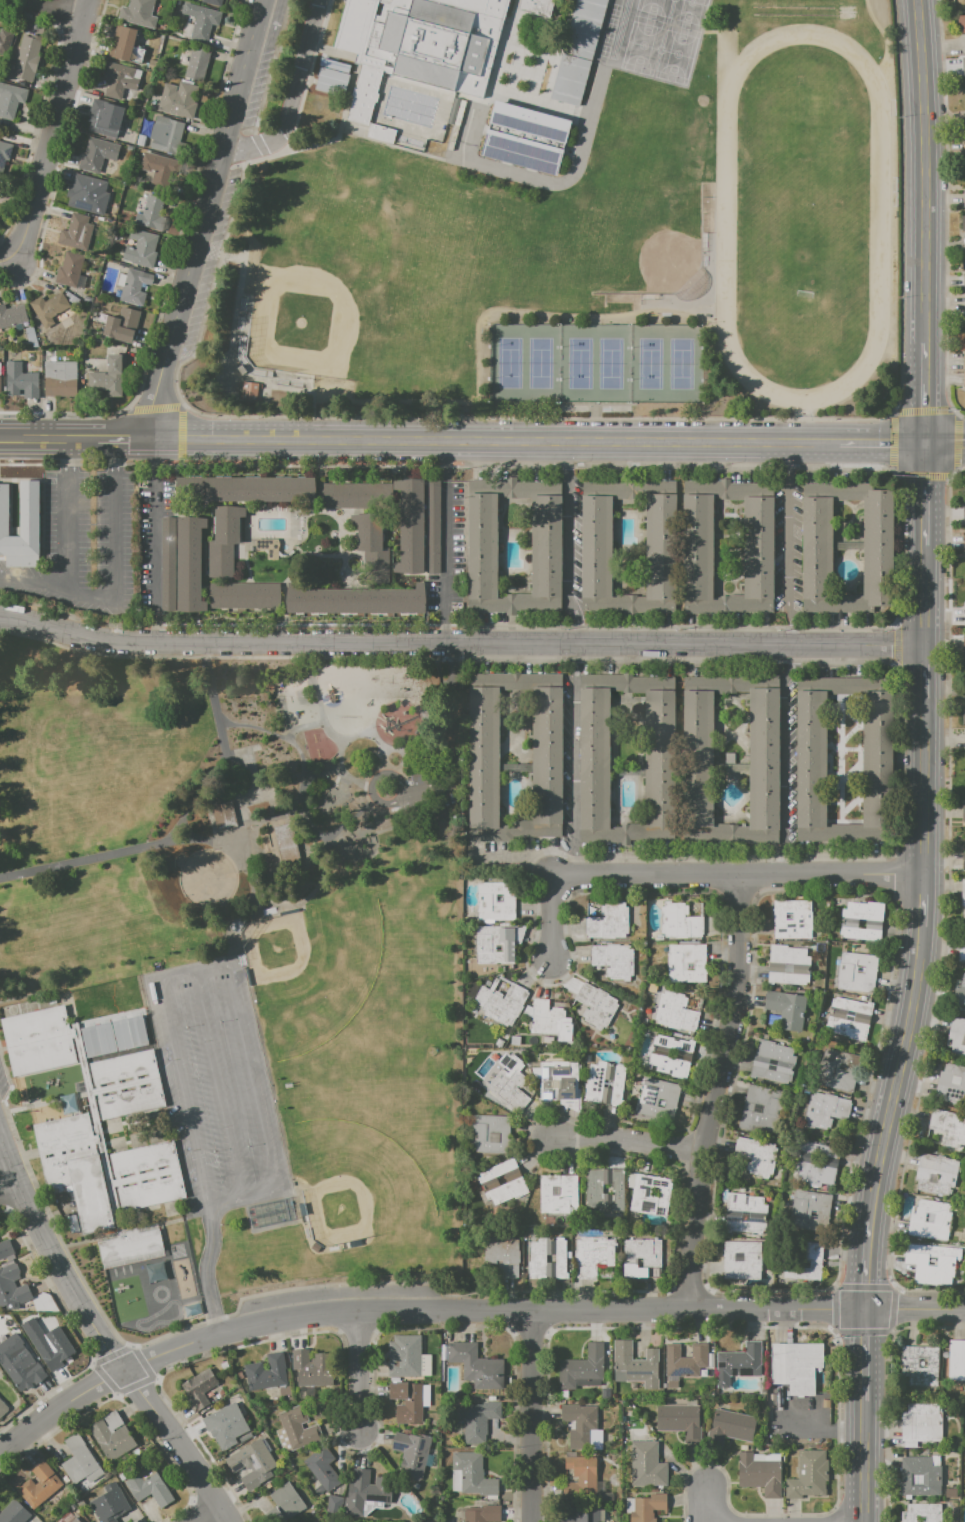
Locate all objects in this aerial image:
building: (169, 1)
building: (178, 2)
building: (213, 2)
building: (964, 3)
building: (536, 6)
track: (793, 6)
road: (63, 7)
park: (652, 9)
park: (675, 9)
building: (132, 12)
park: (687, 14)
track: (793, 14)
building: (201, 20)
building: (961, 24)
building: (354, 25)
building: (583, 27)
track: (619, 29)
building: (5, 40)
building: (114, 40)
building: (437, 41)
park: (642, 45)
building: (126, 47)
park: (659, 49)
park: (676, 54)
building: (28, 56)
building: (198, 63)
building: (963, 65)
building: (119, 79)
building: (569, 79)
building: (362, 94)
road: (290, 95)
building: (10, 99)
building: (179, 99)
building: (106, 118)
building: (964, 120)
building: (529, 121)
road: (55, 128)
building: (166, 134)
building: (383, 134)
building: (141, 140)
building: (964, 143)
building: (520, 151)
building: (4, 153)
building: (97, 154)
building: (161, 171)
road: (921, 187)
building: (88, 193)
building: (964, 199)
building: (151, 212)
park: (803, 213)
track: (879, 217)
road: (205, 218)
building: (963, 223)
building: (76, 231)
park: (634, 232)
building: (141, 248)
park: (588, 256)
road: (6, 258)
park: (360, 264)
building: (70, 268)
building: (963, 280)
building: (134, 286)
building: (964, 302)
building: (49, 308)
building: (12, 315)
building: (122, 325)
building: (964, 360)
park: (595, 363)
building: (109, 376)
building: (61, 378)
building: (21, 380)
building: (964, 380)
road: (924, 410)
road: (595, 422)
road: (47, 436)
road: (121, 437)
road: (493, 441)
road: (881, 445)
traffic signals: (924, 446)
road: (944, 446)
road: (568, 456)
road: (160, 463)
road: (924, 478)
building: (256, 489)
building: (342, 495)
building: (963, 509)
road: (68, 511)
building: (20, 520)
building: (411, 525)
building: (431, 526)
road: (568, 537)
building: (224, 540)
road: (113, 541)
parking lot: (84, 542)
building: (964, 542)
road: (787, 545)
building: (546, 546)
building: (371, 547)
building: (660, 547)
building: (697, 547)
road: (156, 548)
building: (816, 548)
road: (444, 562)
building: (189, 563)
road: (34, 581)
building: (243, 595)
building: (355, 600)
road: (576, 621)
road: (461, 642)
building: (964, 645)
road: (576, 657)
road: (453, 710)
building: (963, 716)
road: (310, 724)
road: (372, 738)
building: (964, 742)
building: (484, 757)
road: (575, 759)
building: (594, 759)
building: (763, 759)
road: (785, 759)
building: (877, 760)
road: (321, 772)
road: (382, 772)
road: (427, 783)
parking lot: (429, 785)
park: (213, 794)
building: (963, 813)
building: (223, 815)
road: (267, 816)
road: (182, 821)
road: (400, 824)
road: (333, 830)
road: (212, 838)
building: (286, 845)
road: (894, 854)
road: (513, 857)
building: (964, 861)
road: (574, 862)
road: (738, 876)
road: (896, 876)
building: (963, 893)
building: (499, 897)
road: (893, 898)
building: (495, 901)
road: (278, 903)
building: (964, 913)
road: (551, 915)
building: (792, 919)
building: (861, 920)
building: (679, 921)
building: (609, 922)
building: (861, 924)
building: (236, 925)
building: (495, 944)
building: (961, 947)
building: (499, 948)
building: (614, 960)
building: (686, 963)
building: (788, 966)
road: (943, 966)
road: (195, 969)
park: (310, 969)
building: (856, 972)
building: (960, 997)
building: (501, 1001)
building: (597, 1006)
building: (786, 1008)
building: (676, 1012)
building: (547, 1017)
road: (910, 1017)
building: (849, 1018)
building: (131, 1035)
building: (957, 1037)
building: (38, 1040)
building: (99, 1042)
building: (671, 1054)
building: (659, 1058)
building: (773, 1062)
building: (842, 1068)
building: (123, 1069)
building: (838, 1070)
road: (251, 1080)
building: (560, 1082)
building: (605, 1083)
building: (952, 1083)
parking lot: (216, 1084)
road: (216, 1085)
building: (509, 1087)
road: (718, 1093)
road: (183, 1095)
building: (130, 1098)
building: (658, 1098)
building: (763, 1110)
building: (824, 1111)
building: (948, 1128)
building: (491, 1133)
road: (629, 1139)
flagpole: (27, 1144)
building: (757, 1155)
building: (143, 1161)
building: (817, 1163)
building: (75, 1168)
building: (938, 1174)
building: (501, 1180)
road: (6, 1181)
park: (354, 1181)
building: (487, 1184)
building: (607, 1188)
building: (593, 1189)
building: (150, 1190)
building: (654, 1192)
building: (558, 1194)
building: (649, 1194)
road: (243, 1199)
building: (811, 1210)
building: (745, 1213)
building: (813, 1214)
building: (929, 1217)
building: (942, 1219)
building: (130, 1245)
building: (6, 1249)
building: (594, 1255)
building: (503, 1256)
building: (547, 1258)
building: (642, 1258)
building: (742, 1259)
building: (802, 1260)
building: (932, 1262)
building: (639, 1263)
building: (155, 1272)
road: (206, 1272)
building: (12, 1287)
road: (591, 1310)
traffic signals: (868, 1310)
track: (160, 1316)
road: (105, 1334)
building: (57, 1348)
road: (112, 1353)
building: (407, 1357)
building: (686, 1359)
building: (964, 1359)
building: (956, 1360)
road: (142, 1361)
building: (739, 1363)
building: (909, 1363)
building: (922, 1363)
building: (474, 1364)
building: (635, 1365)
building: (796, 1365)
building: (312, 1368)
building: (582, 1368)
road: (358, 1369)
building: (22, 1372)
building: (267, 1372)
road: (104, 1377)
road: (105, 1385)
road: (134, 1385)
building: (199, 1388)
building: (605, 1393)
road: (115, 1395)
building: (409, 1400)
road: (124, 1403)
building: (3, 1407)
road: (529, 1416)
building: (225, 1421)
building: (479, 1421)
building: (680, 1421)
building: (922, 1422)
building: (583, 1425)
building: (730, 1427)
building: (296, 1429)
road: (800, 1430)
building: (112, 1437)
building: (411, 1453)
building: (252, 1463)
building: (81, 1464)
building: (647, 1465)
building: (323, 1468)
building: (471, 1474)
building: (760, 1474)
building: (809, 1474)
building: (579, 1478)
building: (917, 1479)
building: (931, 1479)
building: (40, 1484)
building: (149, 1487)
building: (365, 1491)
building: (284, 1504)
building: (334, 1504)
road: (708, 1504)
building: (108, 1505)
building: (648, 1507)
building: (922, 1512)
building: (14, 1513)
building: (482, 1513)
road: (211, 1514)
building: (579, 1514)
building: (70, 1519)
building: (920, 1519)

